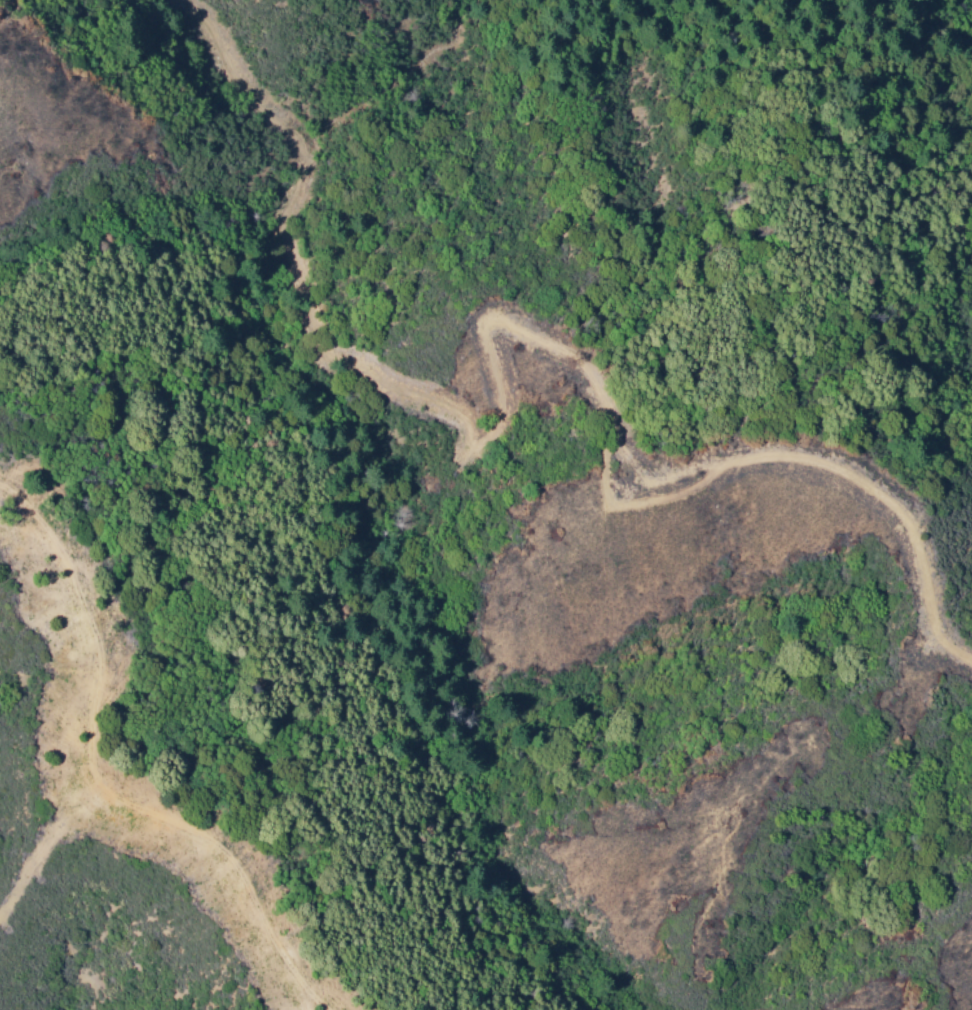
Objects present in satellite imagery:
road: (222, 57)
road: (521, 339)

